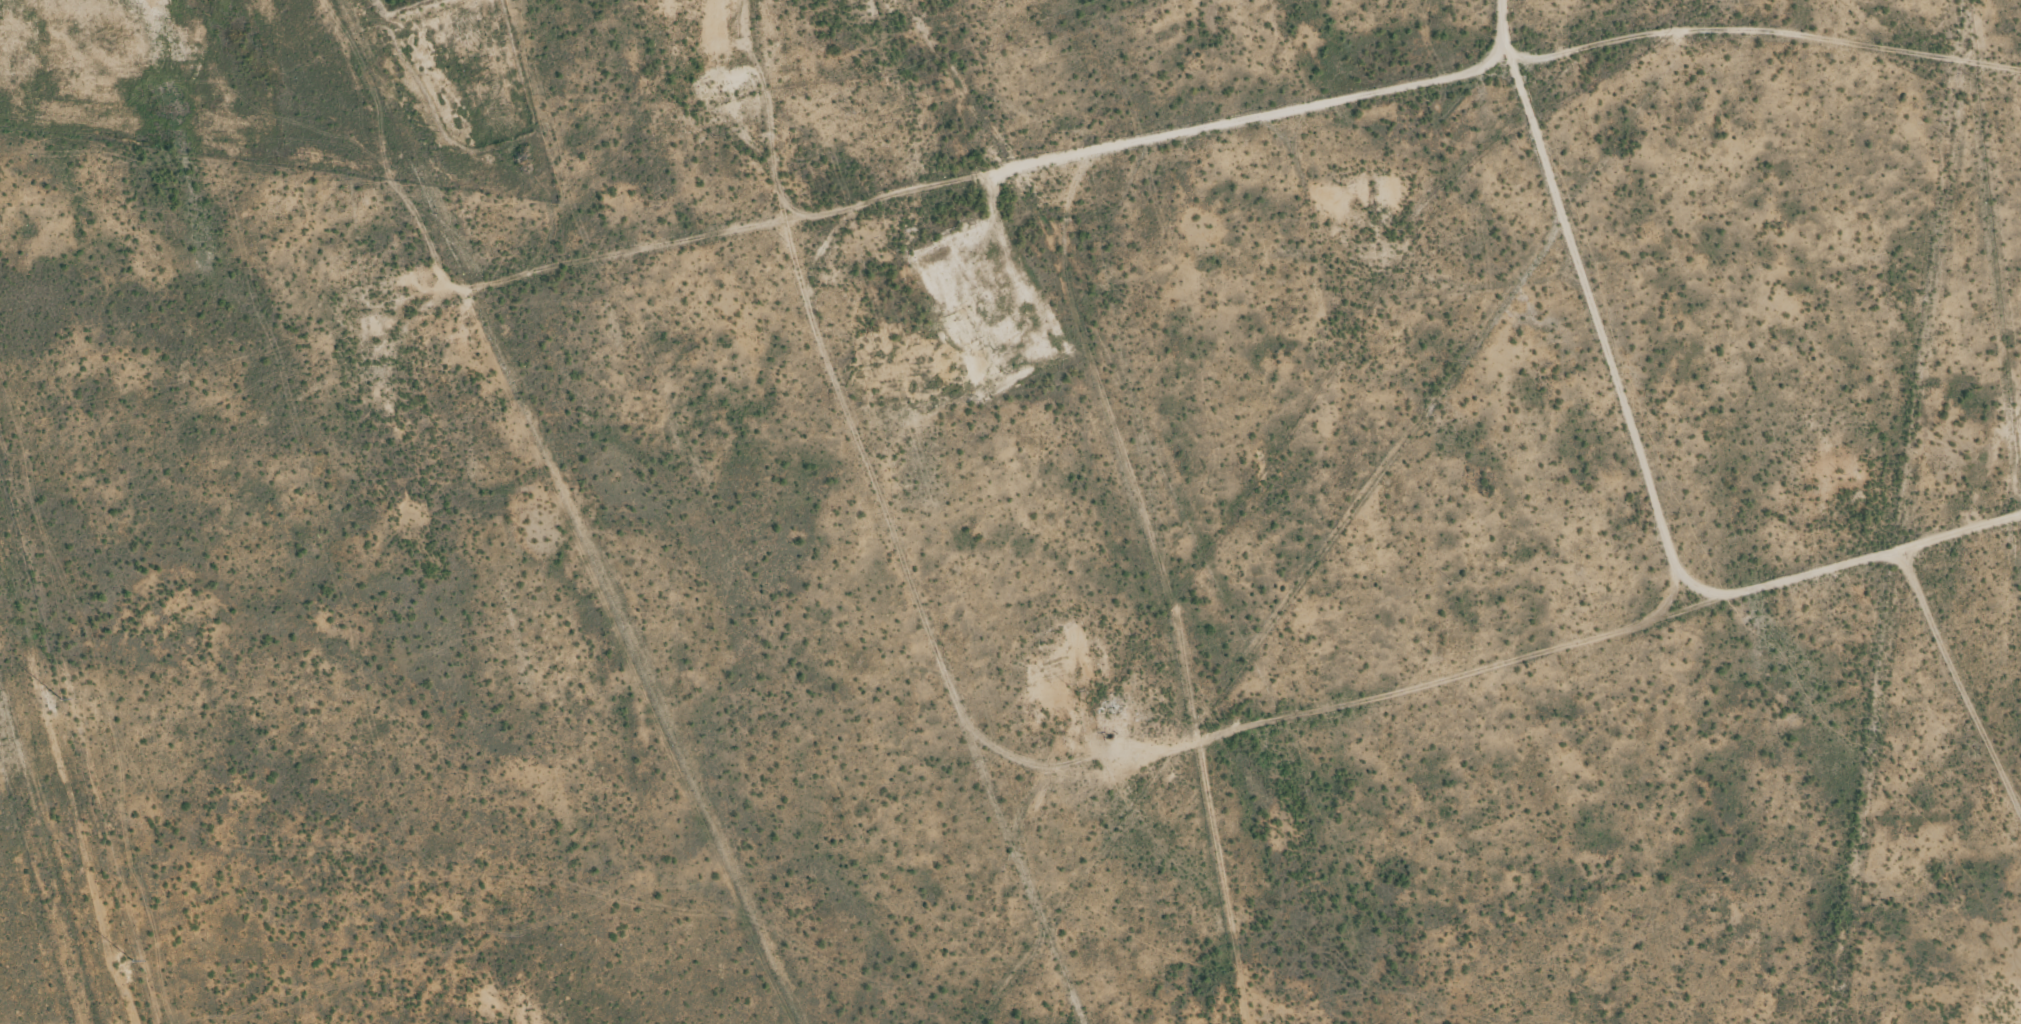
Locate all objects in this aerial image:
power tower: (59, 695)
power tower: (127, 961)

